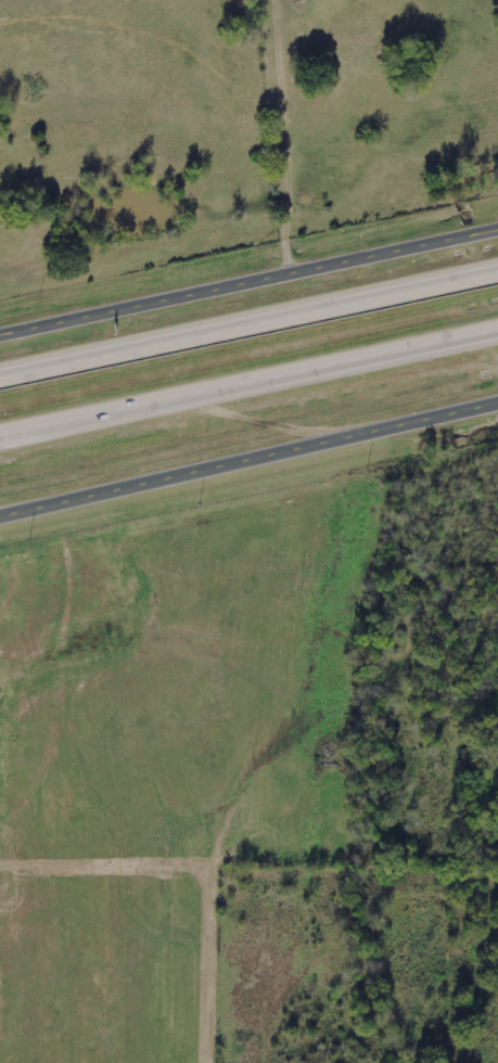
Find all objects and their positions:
road: (248, 273)
road: (248, 317)
road: (248, 380)
road: (248, 457)

